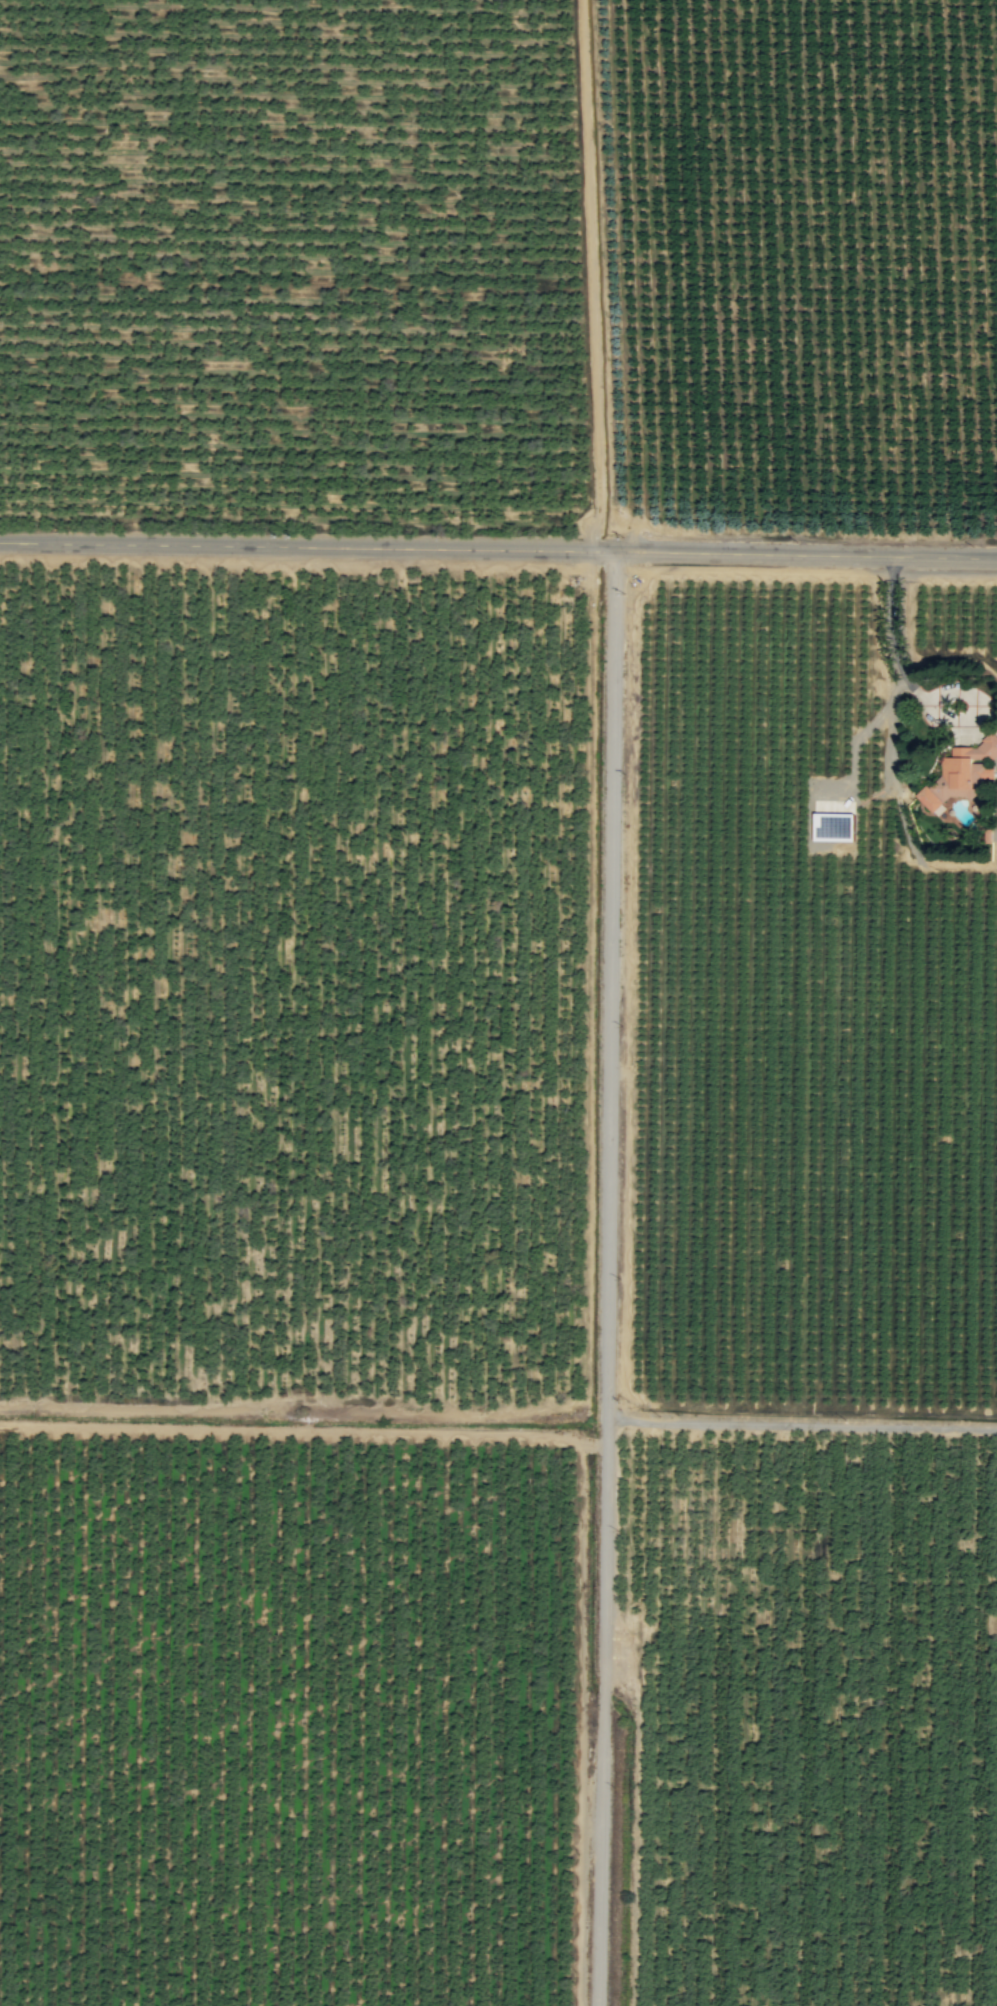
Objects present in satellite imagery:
road: (498, 549)
road: (893, 645)
building: (962, 773)
building: (834, 827)
road: (610, 1279)

